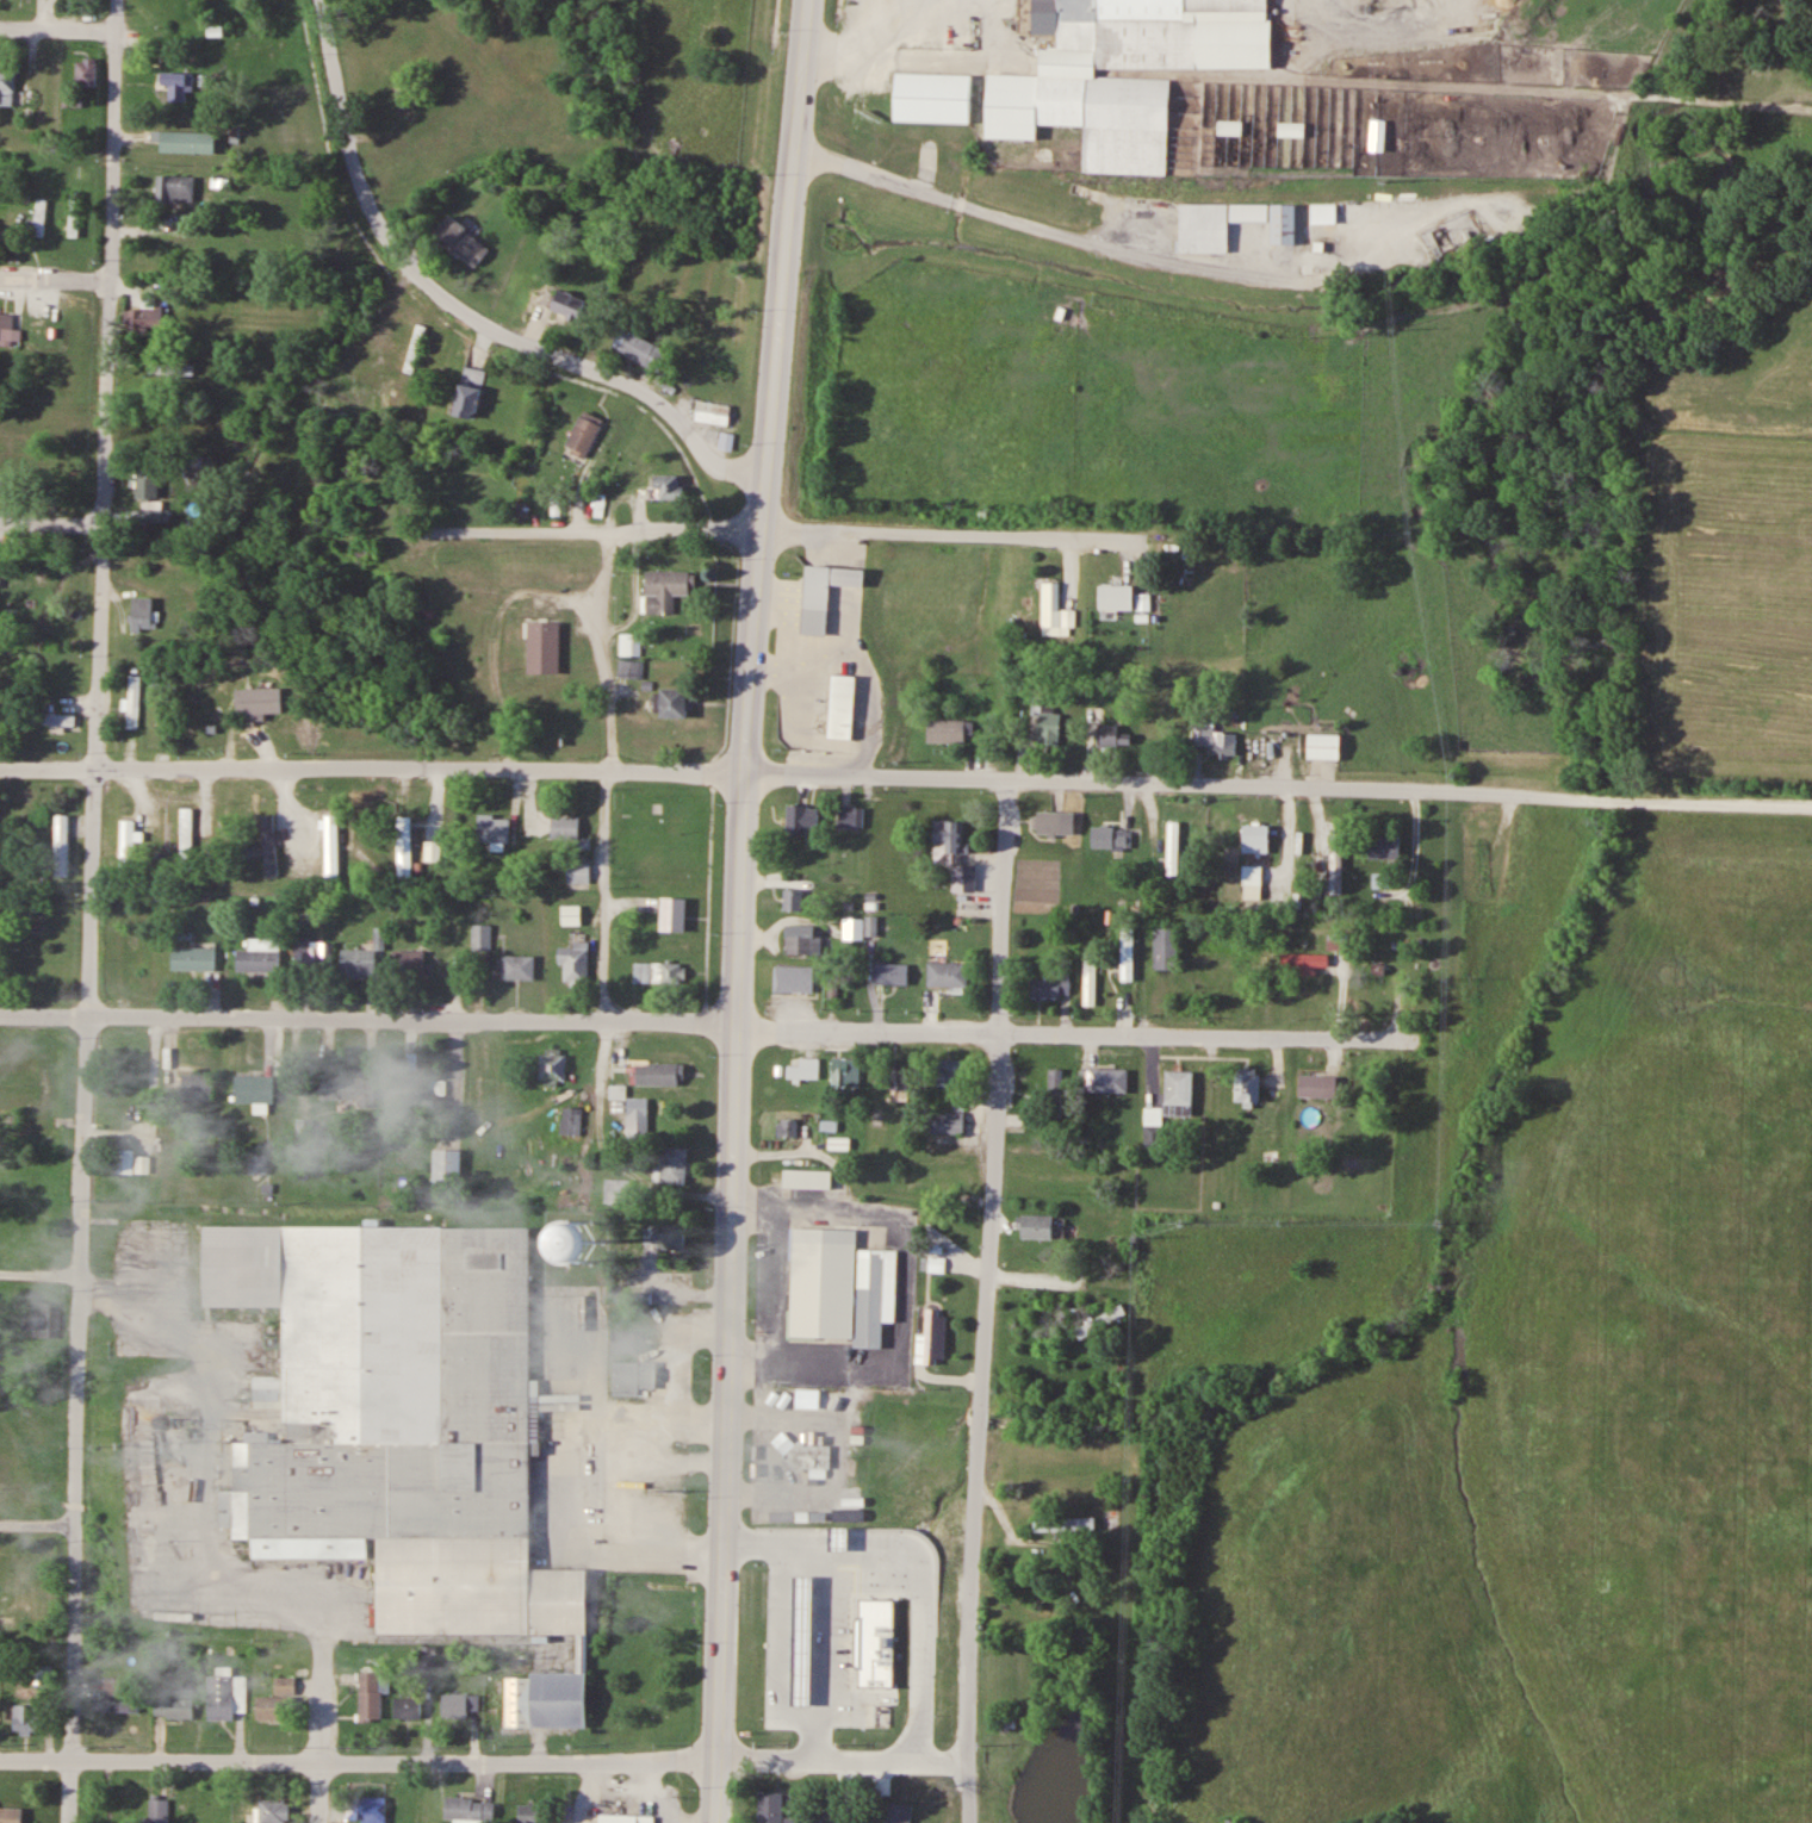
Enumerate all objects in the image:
road: (57, 27)
building: (1158, 35)
building: (176, 85)
building: (6, 88)
road: (1622, 94)
building: (936, 95)
building: (1081, 116)
building: (187, 142)
building: (174, 188)
building: (1323, 212)
building: (39, 217)
building: (1283, 223)
building: (1203, 228)
building: (460, 241)
road: (56, 275)
building: (565, 304)
road: (457, 310)
building: (148, 315)
building: (8, 326)
building: (414, 348)
building: (640, 350)
building: (145, 382)
building: (325, 393)
building: (467, 393)
building: (353, 402)
building: (381, 405)
building: (712, 413)
building: (583, 434)
building: (726, 441)
building: (147, 480)
building: (668, 487)
building: (360, 504)
building: (155, 514)
road: (52, 522)
road: (775, 523)
building: (366, 550)
building: (665, 590)
building: (824, 593)
building: (1117, 596)
building: (1055, 612)
building: (142, 614)
building: (631, 643)
building: (544, 648)
building: (629, 668)
building: (260, 698)
building: (132, 701)
building: (675, 703)
building: (843, 705)
building: (54, 720)
building: (1050, 727)
building: (1265, 730)
building: (950, 732)
building: (1109, 732)
building: (1218, 741)
building: (1327, 746)
road: (48, 767)
road: (954, 773)
building: (851, 817)
building: (801, 819)
building: (1049, 825)
building: (565, 828)
building: (494, 829)
building: (186, 833)
building: (1183, 835)
building: (1111, 838)
building: (1256, 838)
building: (949, 839)
building: (126, 842)
building: (60, 845)
building: (268, 846)
building: (330, 846)
building: (1383, 846)
building: (403, 848)
building: (1336, 864)
building: (1483, 867)
building: (578, 872)
building: (1252, 876)
building: (964, 879)
building: (1383, 881)
building: (794, 900)
road: (736, 909)
road: (91, 910)
building: (675, 915)
building: (571, 916)
building: (855, 929)
building: (482, 938)
building: (805, 939)
building: (1166, 948)
building: (1128, 954)
building: (259, 956)
building: (311, 956)
building: (193, 957)
building: (1386, 960)
building: (358, 963)
building: (1093, 963)
building: (1303, 963)
building: (575, 964)
building: (407, 965)
building: (517, 966)
building: (891, 971)
building: (658, 973)
building: (948, 975)
building: (795, 978)
building: (1050, 987)
road: (44, 1015)
road: (411, 1019)
road: (1074, 1031)
building: (553, 1064)
building: (805, 1068)
building: (952, 1070)
building: (846, 1072)
building: (660, 1074)
building: (900, 1078)
building: (1111, 1081)
building: (197, 1085)
building: (254, 1087)
building: (348, 1087)
building: (1247, 1087)
building: (1318, 1087)
building: (418, 1089)
building: (1053, 1091)
building: (1179, 1093)
building: (132, 1096)
building: (638, 1116)
building: (573, 1122)
building: (947, 1122)
building: (788, 1126)
building: (1153, 1127)
building: (124, 1161)
building: (674, 1164)
building: (447, 1165)
building: (945, 1176)
building: (807, 1178)
building: (618, 1190)
building: (1037, 1225)
building: (666, 1233)
building: (581, 1237)
water tower: (577, 1240)
road: (42, 1274)
building: (843, 1282)
road: (989, 1299)
building: (1106, 1318)
building: (43, 1319)
building: (936, 1338)
building: (622, 1340)
building: (634, 1376)
building: (402, 1419)
building: (811, 1461)
building: (1065, 1524)
road: (37, 1525)
building: (850, 1543)
building: (793, 1566)
road: (286, 1586)
building: (1011, 1606)
building: (811, 1643)
gas station: (811, 1643)
building: (43, 1674)
building: (833, 1681)
building: (777, 1682)
building: (285, 1684)
building: (112, 1685)
building: (370, 1694)
building: (226, 1696)
building: (173, 1701)
building: (458, 1703)
building: (116, 1706)
building: (408, 1706)
building: (271, 1707)
building: (26, 1718)
road: (322, 1729)
road: (485, 1761)
building: (771, 1806)
building: (366, 1809)
building: (155, 1810)
building: (470, 1810)
building: (274, 1811)
building: (900, 1812)
building: (529, 1813)
building: (10, 1815)
building: (627, 1818)
building: (803, 1819)

